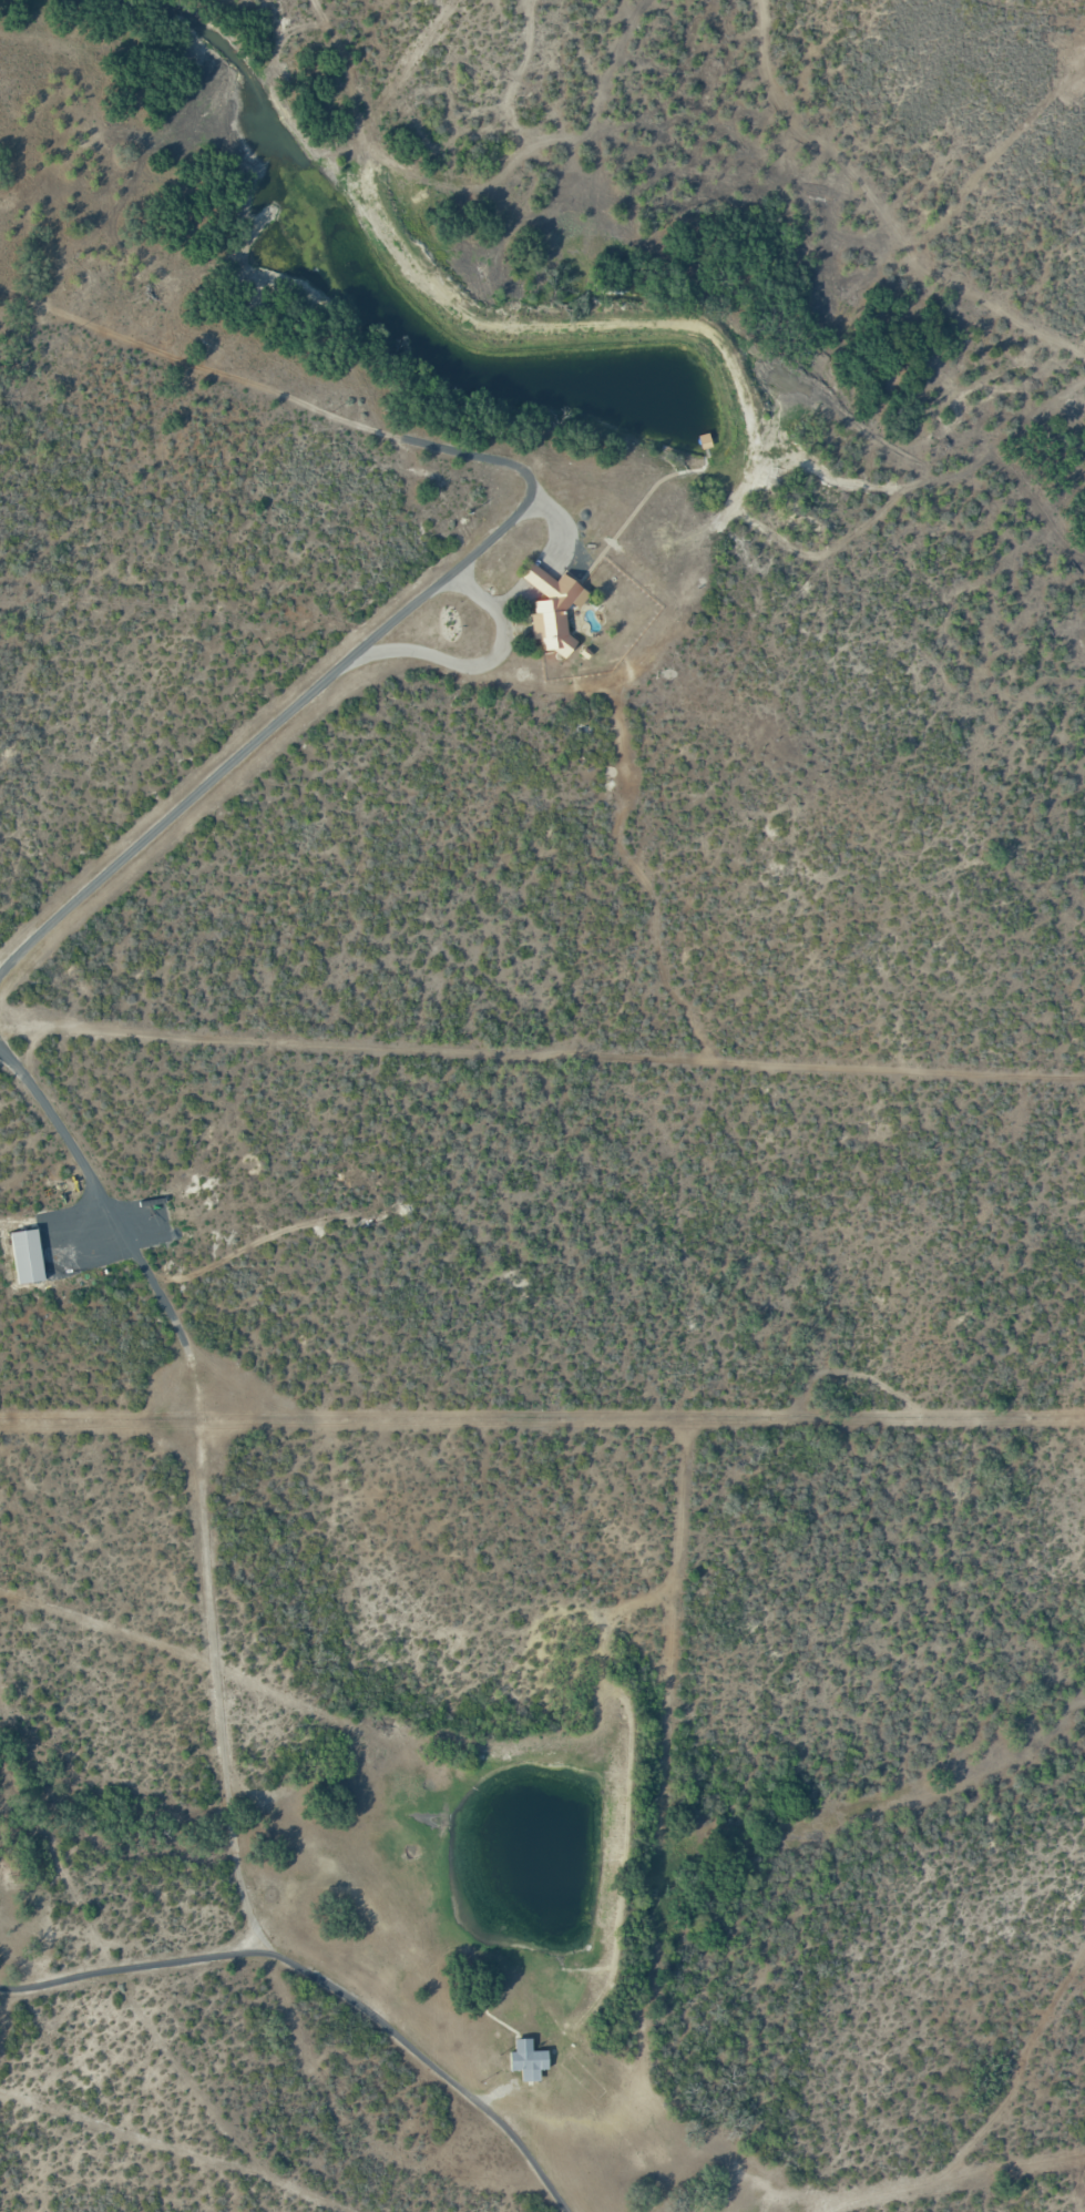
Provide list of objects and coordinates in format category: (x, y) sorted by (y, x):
building: (552, 609)
road: (263, 732)
road: (542, 1062)
building: (27, 1254)
road: (323, 1984)
building: (528, 2059)

